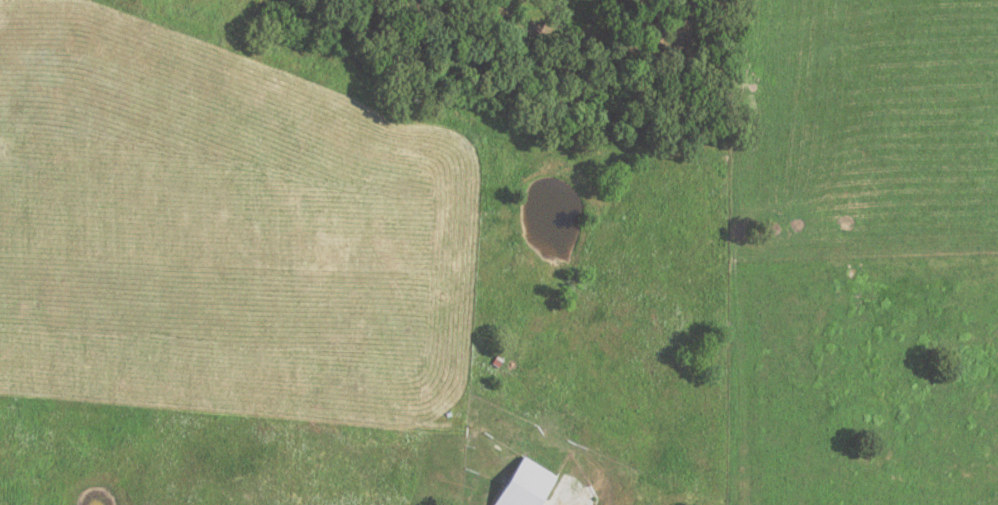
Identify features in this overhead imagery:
building: (524, 485)

